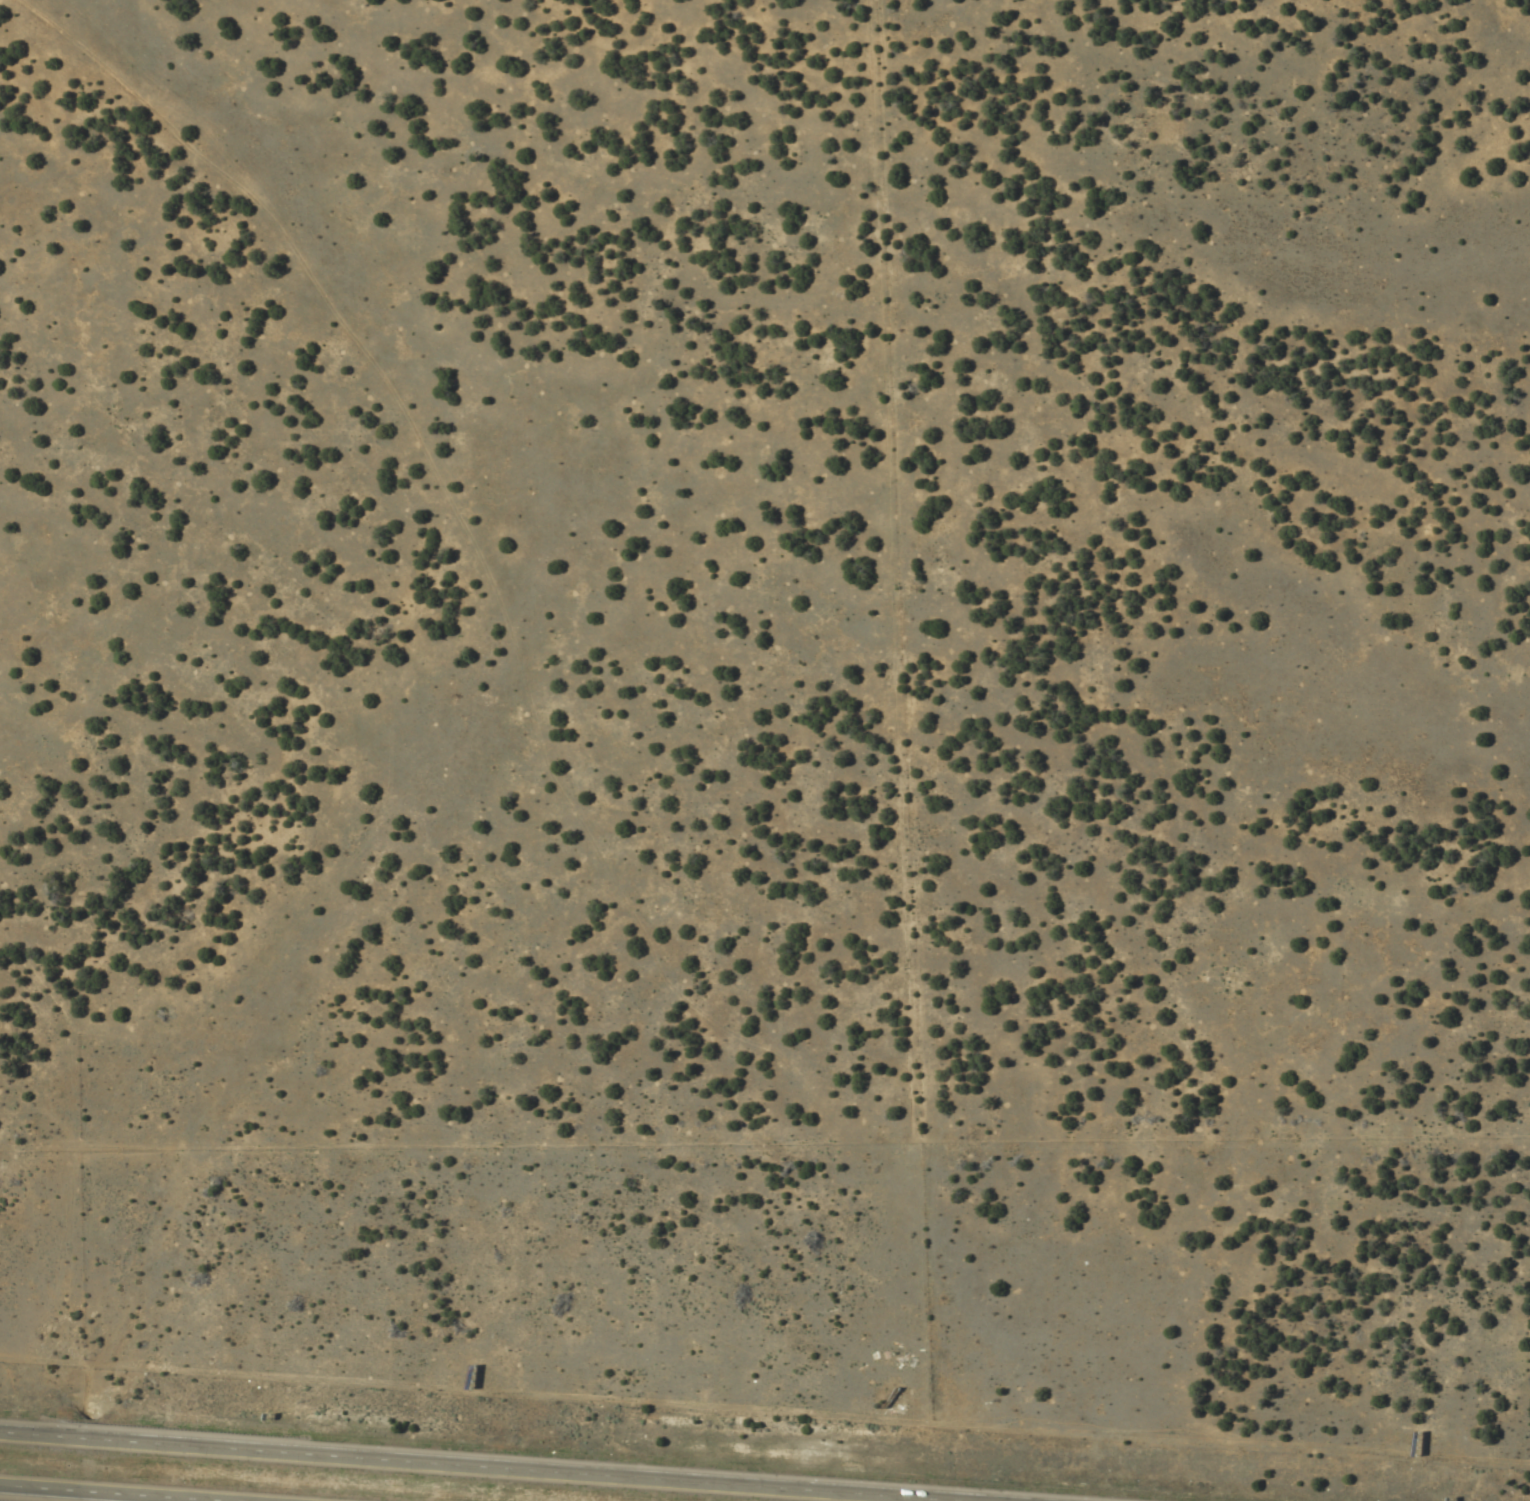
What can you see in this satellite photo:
road: (442, 1469)
road: (117, 1492)

